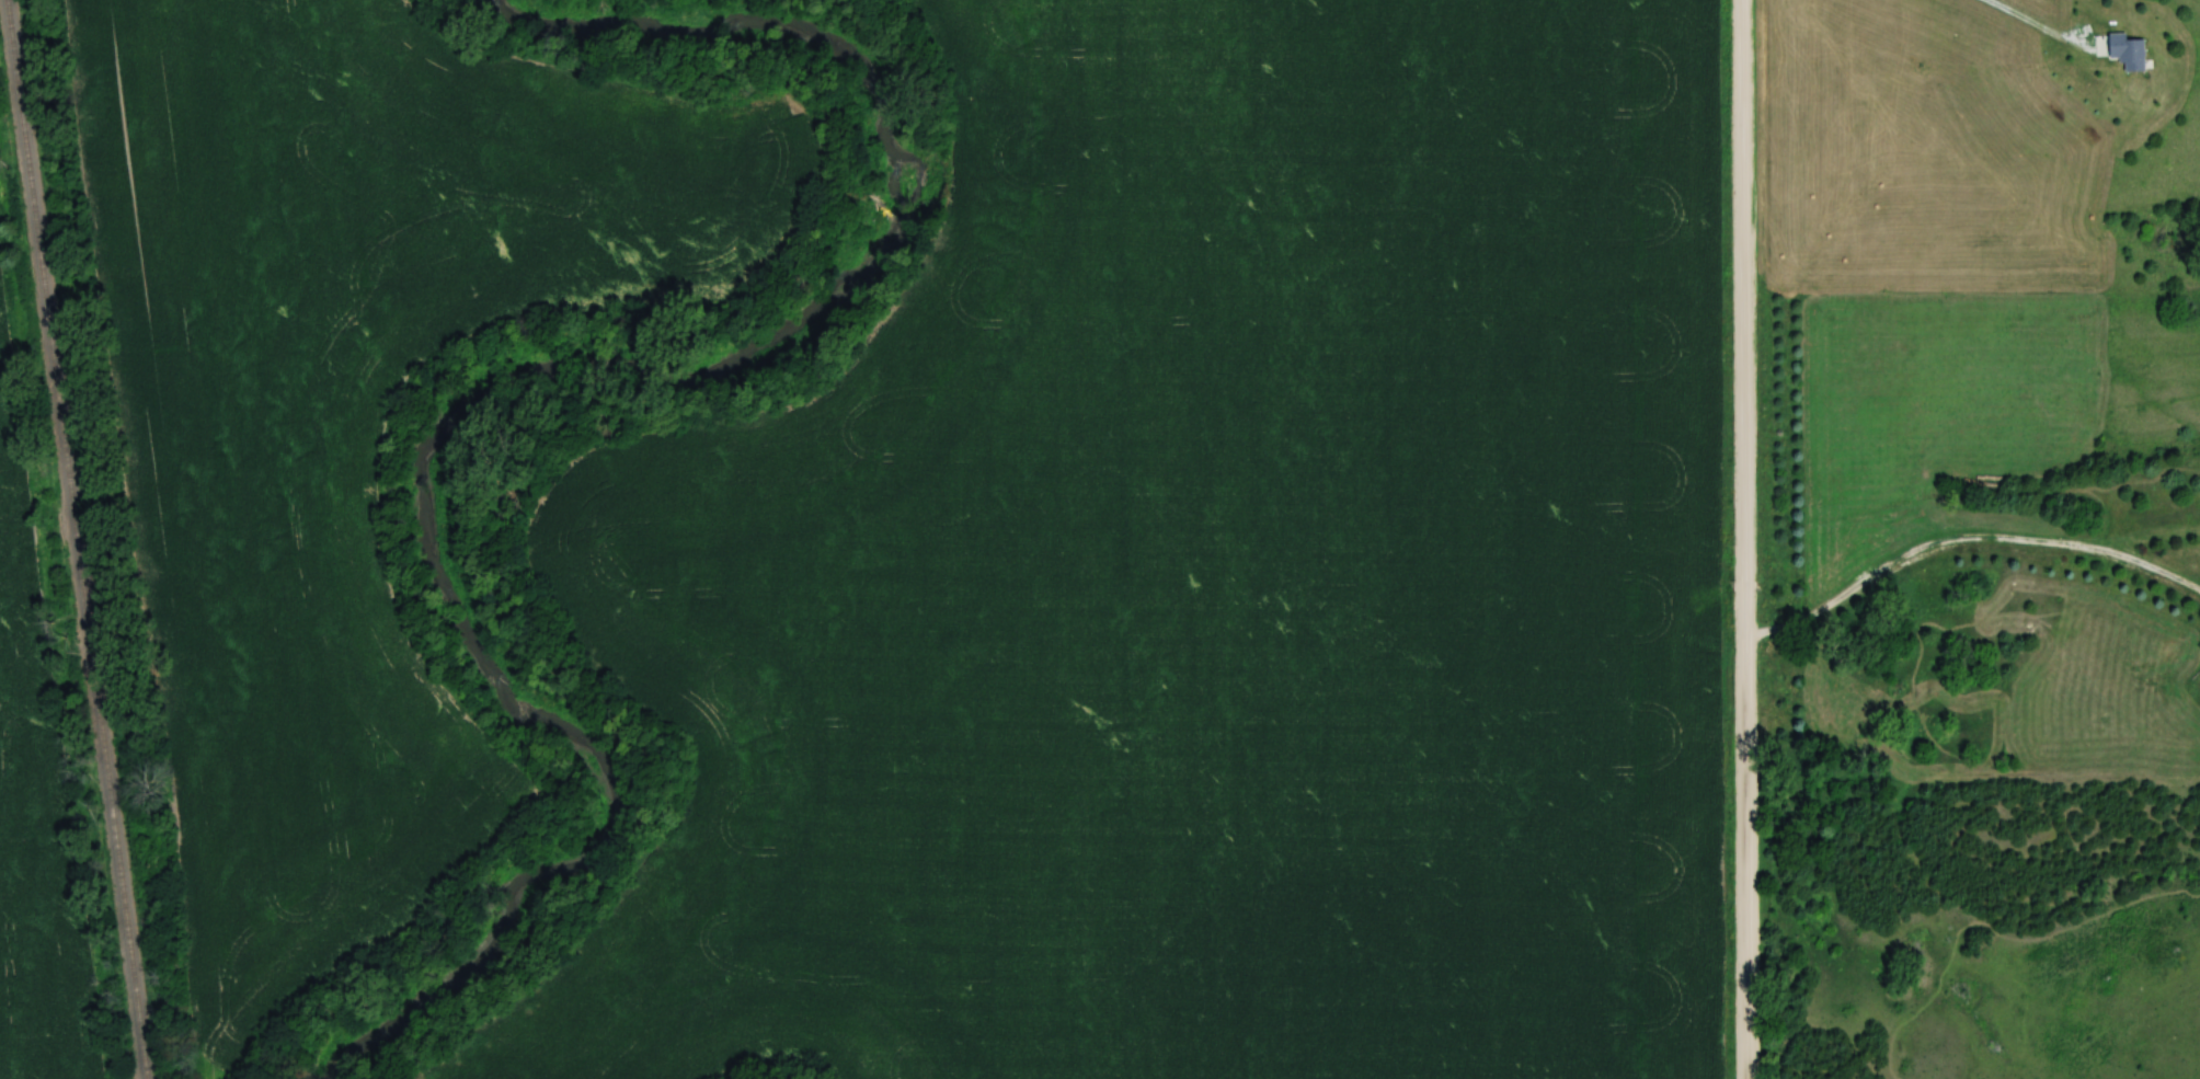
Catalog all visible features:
building: (2128, 51)
river: (522, 383)
road: (1967, 538)
railway: (77, 539)
road: (1746, 539)

